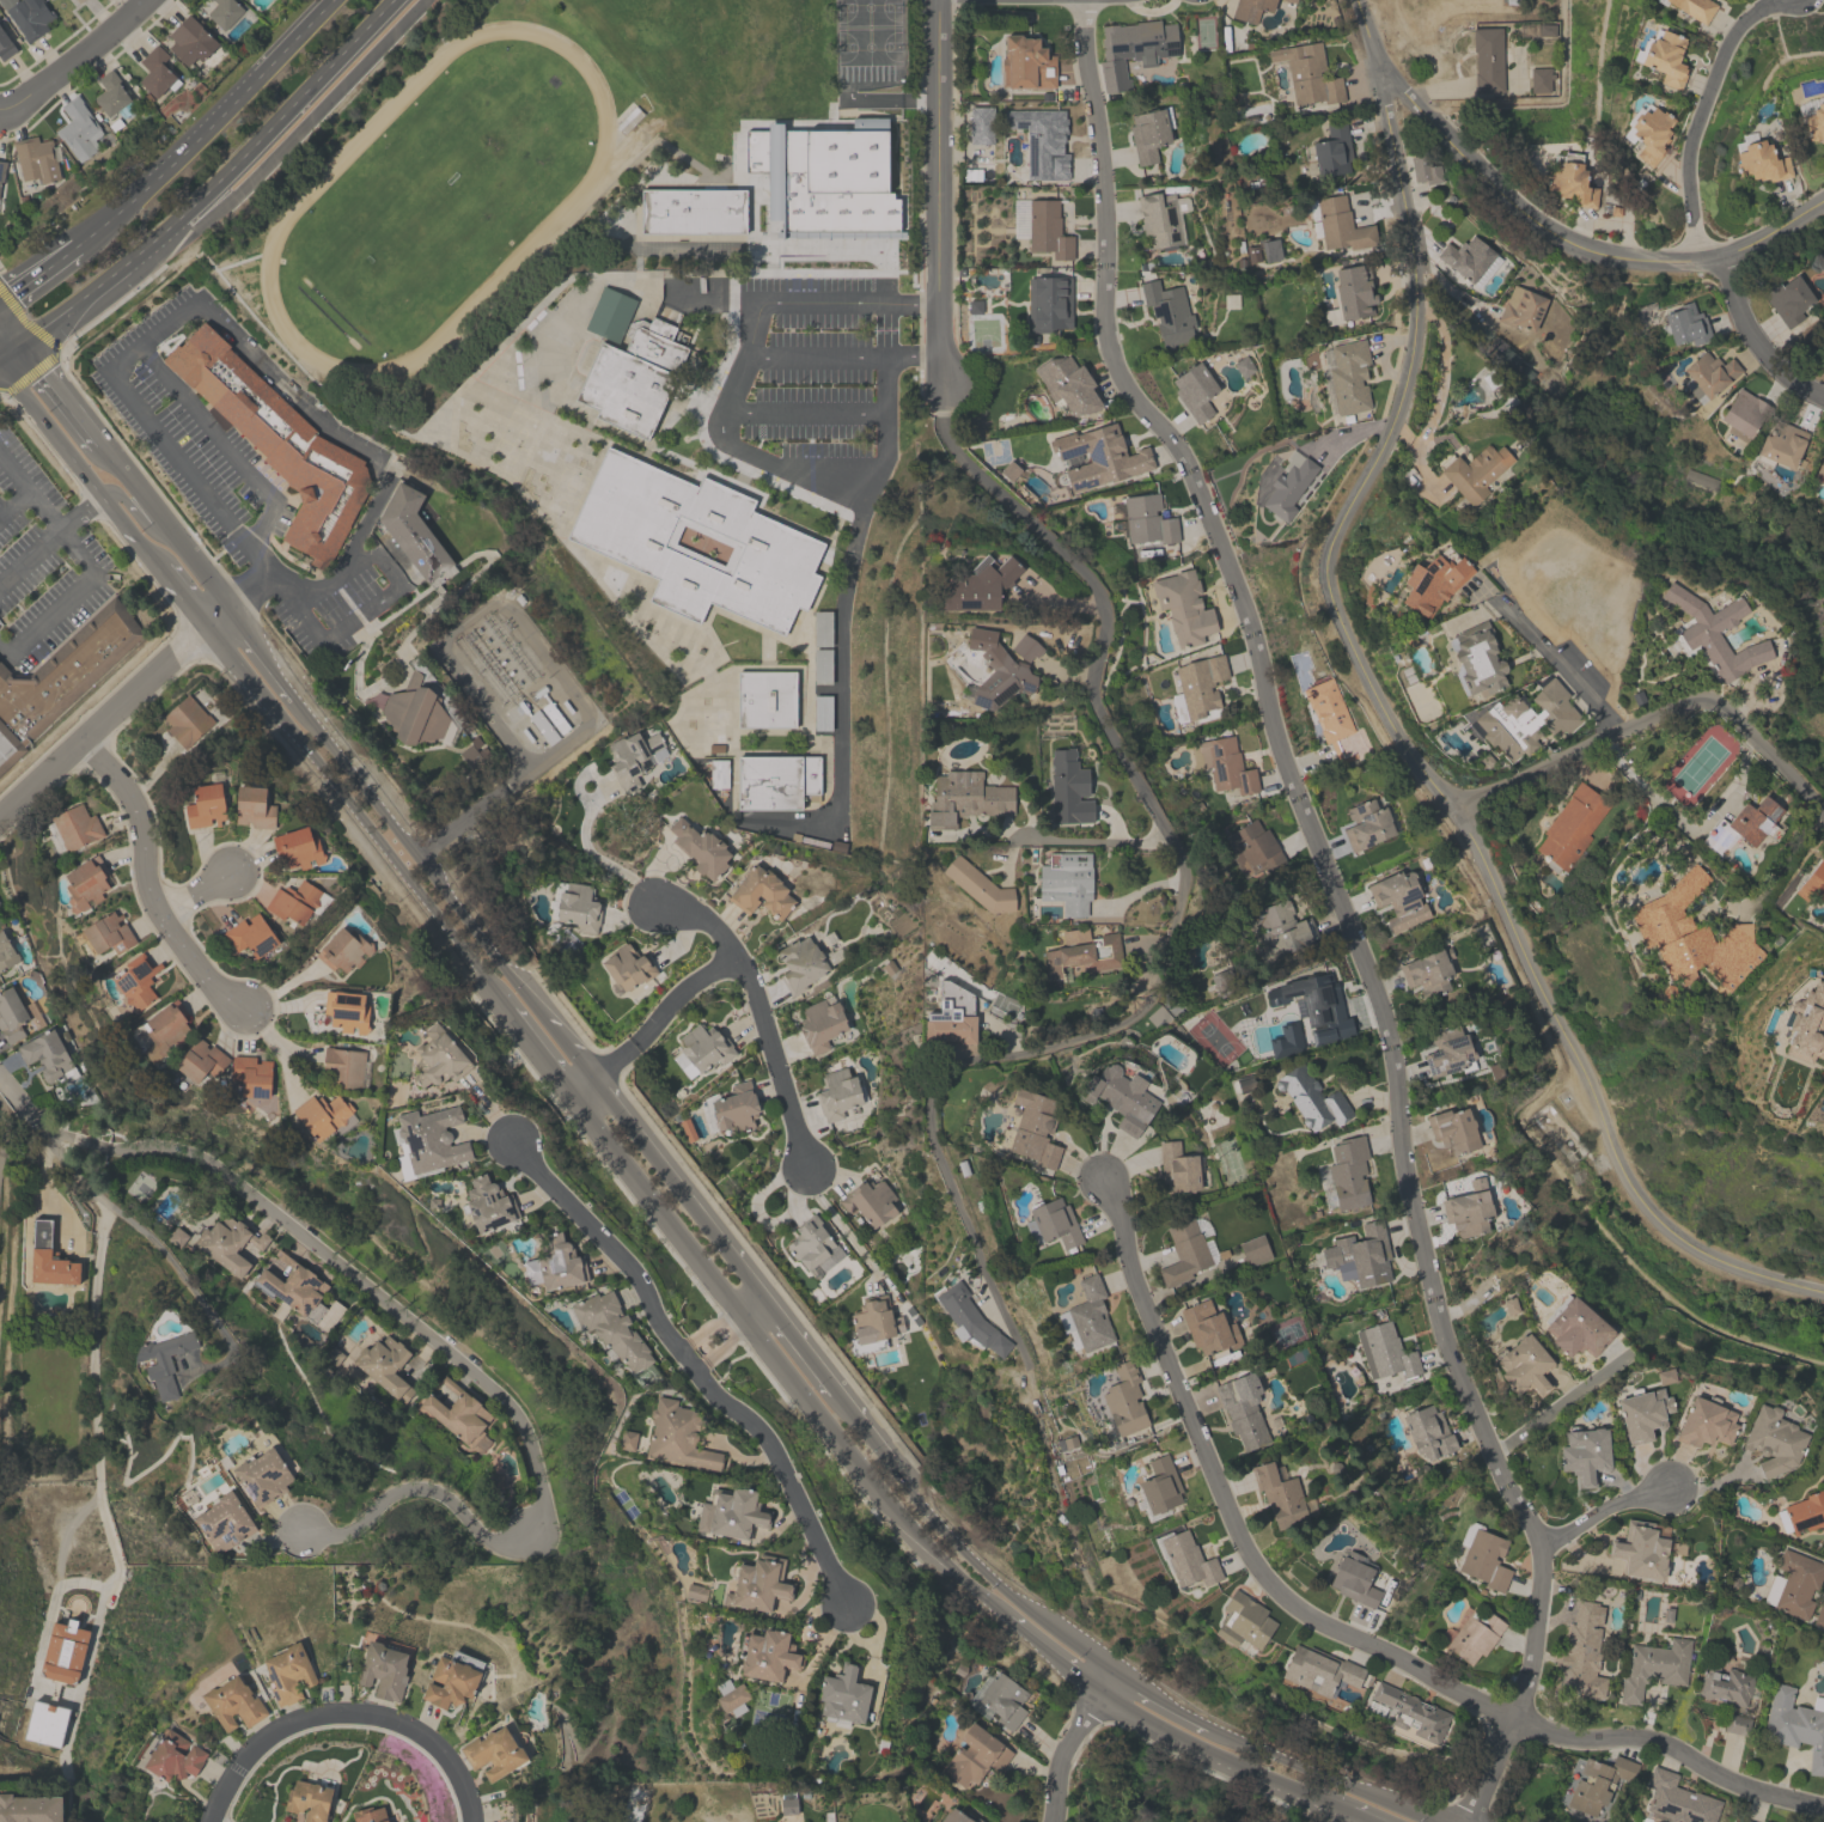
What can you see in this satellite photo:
building: (51, 0)
building: (78, 0)
building: (244, 0)
building: (1694, 7)
building: (1250, 10)
building: (224, 12)
building: (28, 16)
building: (190, 39)
building: (5, 45)
building: (1134, 48)
building: (1665, 57)
building: (1487, 59)
road: (77, 62)
building: (1025, 63)
building: (157, 72)
building: (1308, 75)
building: (1539, 79)
building: (111, 93)
road: (1696, 116)
building: (1814, 122)
road: (208, 123)
building: (981, 124)
building: (78, 128)
building: (1149, 133)
building: (1647, 133)
road: (288, 139)
building: (1042, 141)
building: (1332, 151)
building: (35, 159)
building: (1761, 162)
building: (1, 169)
building: (1425, 170)
road: (201, 181)
road: (1489, 182)
building: (1569, 182)
road: (939, 195)
track: (435, 199)
park: (831, 205)
building: (693, 211)
building: (1159, 218)
building: (1337, 224)
building: (1048, 228)
road: (1771, 231)
road: (73, 244)
building: (1270, 250)
road: (1707, 257)
building: (1469, 260)
road: (227, 264)
road: (32, 274)
building: (1350, 294)
building: (1048, 299)
building: (1791, 300)
road: (130, 307)
road: (752, 307)
building: (1521, 307)
building: (1167, 311)
road: (28, 321)
building: (1685, 324)
road: (887, 331)
road: (151, 336)
road: (1751, 342)
road: (1, 346)
road: (1, 348)
road: (915, 359)
road: (30, 371)
building: (1708, 374)
building: (1348, 377)
building: (633, 378)
building: (1067, 385)
road: (287, 391)
building: (1195, 391)
road: (810, 414)
building: (1743, 414)
road: (887, 427)
building: (276, 441)
building: (1780, 444)
road: (224, 447)
road: (756, 453)
building: (1098, 456)
building: (1820, 468)
building: (1474, 473)
building: (1287, 488)
road: (29, 490)
road: (13, 500)
road: (214, 507)
road: (133, 511)
road: (78, 512)
building: (1147, 519)
road: (859, 523)
building: (414, 535)
building: (622, 541)
road: (352, 546)
road: (75, 549)
road: (30, 559)
building: (1433, 580)
building: (980, 584)
road: (248, 589)
road: (386, 595)
building: (1183, 607)
road: (49, 611)
building: (822, 628)
building: (1715, 633)
road: (4, 647)
building: (1025, 647)
building: (1476, 659)
road: (1558, 663)
building: (822, 665)
building: (66, 671)
building: (998, 671)
building: (1200, 683)
power substation: (516, 684)
building: (765, 699)
road: (114, 708)
building: (1328, 709)
building: (821, 713)
building: (415, 717)
road: (1651, 717)
building: (1525, 719)
building: (187, 720)
road: (838, 725)
building: (712, 730)
building: (8, 748)
road: (1408, 751)
building: (469, 756)
building: (633, 757)
building: (1222, 763)
road: (521, 764)
building: (718, 773)
building: (775, 781)
building: (1068, 788)
building: (965, 798)
building: (205, 805)
building: (254, 808)
building: (1755, 821)
building: (1366, 823)
building: (1570, 825)
road: (1686, 825)
building: (75, 828)
road: (1091, 841)
building: (298, 847)
building: (700, 848)
building: (1252, 848)
road: (592, 852)
building: (1066, 882)
building: (85, 883)
road: (150, 883)
building: (1812, 883)
building: (978, 885)
road: (193, 891)
building: (760, 892)
building: (1398, 898)
building: (297, 902)
building: (578, 907)
road: (1342, 908)
road: (1173, 919)
building: (1281, 927)
building: (108, 933)
building: (251, 936)
building: (1694, 937)
building: (343, 950)
building: (6, 952)
building: (1082, 952)
building: (800, 963)
building: (628, 967)
building: (1427, 971)
building: (136, 981)
building: (1314, 1005)
road: (757, 1010)
building: (346, 1011)
building: (11, 1016)
building: (951, 1016)
building: (821, 1023)
road: (652, 1024)
building: (1806, 1024)
building: (165, 1029)
building: (704, 1047)
building: (1447, 1053)
building: (48, 1056)
building: (438, 1058)
building: (197, 1064)
building: (343, 1066)
building: (251, 1074)
building: (837, 1093)
building: (1122, 1097)
building: (1311, 1098)
building: (736, 1108)
road: (2, 1109)
building: (324, 1115)
road: (43, 1128)
building: (1032, 1128)
building: (1453, 1129)
building: (431, 1139)
road: (621, 1159)
road: (657, 1159)
building: (1177, 1168)
building: (1348, 1171)
building: (868, 1201)
building: (487, 1205)
building: (1468, 1208)
building: (1051, 1223)
road: (846, 1232)
building: (228, 1243)
road: (606, 1243)
building: (812, 1244)
building: (1251, 1249)
building: (1184, 1251)
building: (1360, 1255)
building: (48, 1257)
building: (554, 1265)
road: (193, 1291)
building: (298, 1293)
building: (1086, 1317)
building: (968, 1318)
building: (872, 1326)
building: (1208, 1327)
building: (611, 1328)
building: (1574, 1328)
road: (725, 1329)
building: (1385, 1352)
building: (164, 1361)
building: (384, 1365)
building: (1523, 1366)
road: (94, 1372)
road: (482, 1378)
building: (1124, 1400)
road: (1557, 1406)
building: (1243, 1409)
building: (458, 1413)
building: (1642, 1413)
building: (1704, 1422)
building: (1427, 1432)
building: (678, 1436)
building: (1773, 1440)
building: (1584, 1454)
road: (781, 1469)
building: (263, 1476)
building: (1823, 1477)
building: (1823, 1481)
road: (1710, 1483)
building: (1160, 1485)
building: (1279, 1495)
road: (1602, 1509)
building: (731, 1513)
building: (1802, 1513)
building: (224, 1522)
building: (1640, 1549)
building: (1823, 1549)
building: (1189, 1560)
building: (1484, 1560)
building: (1353, 1579)
building: (1793, 1583)
building: (758, 1584)
building: (1819, 1616)
building: (1243, 1621)
road: (877, 1627)
road: (1337, 1629)
building: (1474, 1635)
building: (63, 1651)
building: (1582, 1652)
building: (768, 1655)
building: (1654, 1666)
building: (383, 1670)
building: (1319, 1671)
building: (287, 1672)
building: (451, 1678)
building: (1724, 1683)
building: (843, 1694)
building: (730, 1696)
building: (1002, 1699)
building: (232, 1702)
road: (341, 1706)
building: (1411, 1712)
building: (44, 1723)
building: (1735, 1724)
building: (1794, 1725)
road: (1068, 1742)
building: (494, 1753)
building: (975, 1755)
building: (173, 1756)
building: (1598, 1783)
building: (1678, 1799)
building: (309, 1800)
building: (29, 1808)
building: (368, 1815)
building: (957, 1816)
building: (1743, 1820)

